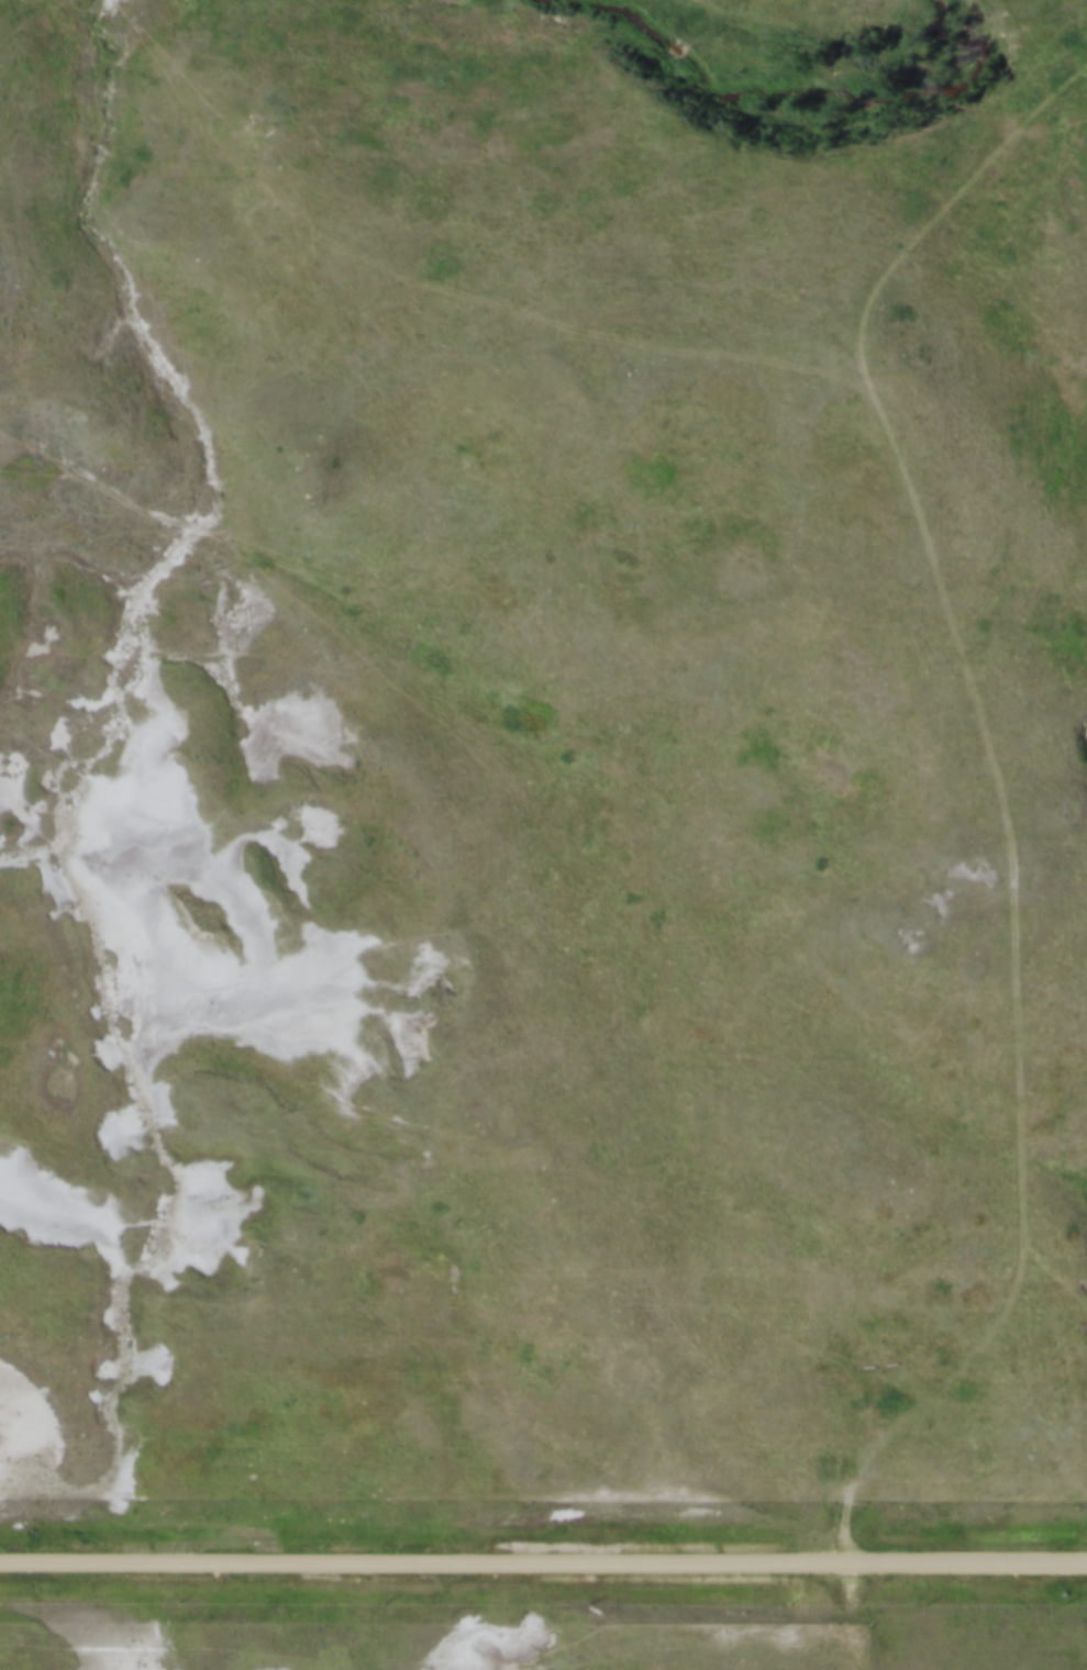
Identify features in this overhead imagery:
road: (543, 1557)

